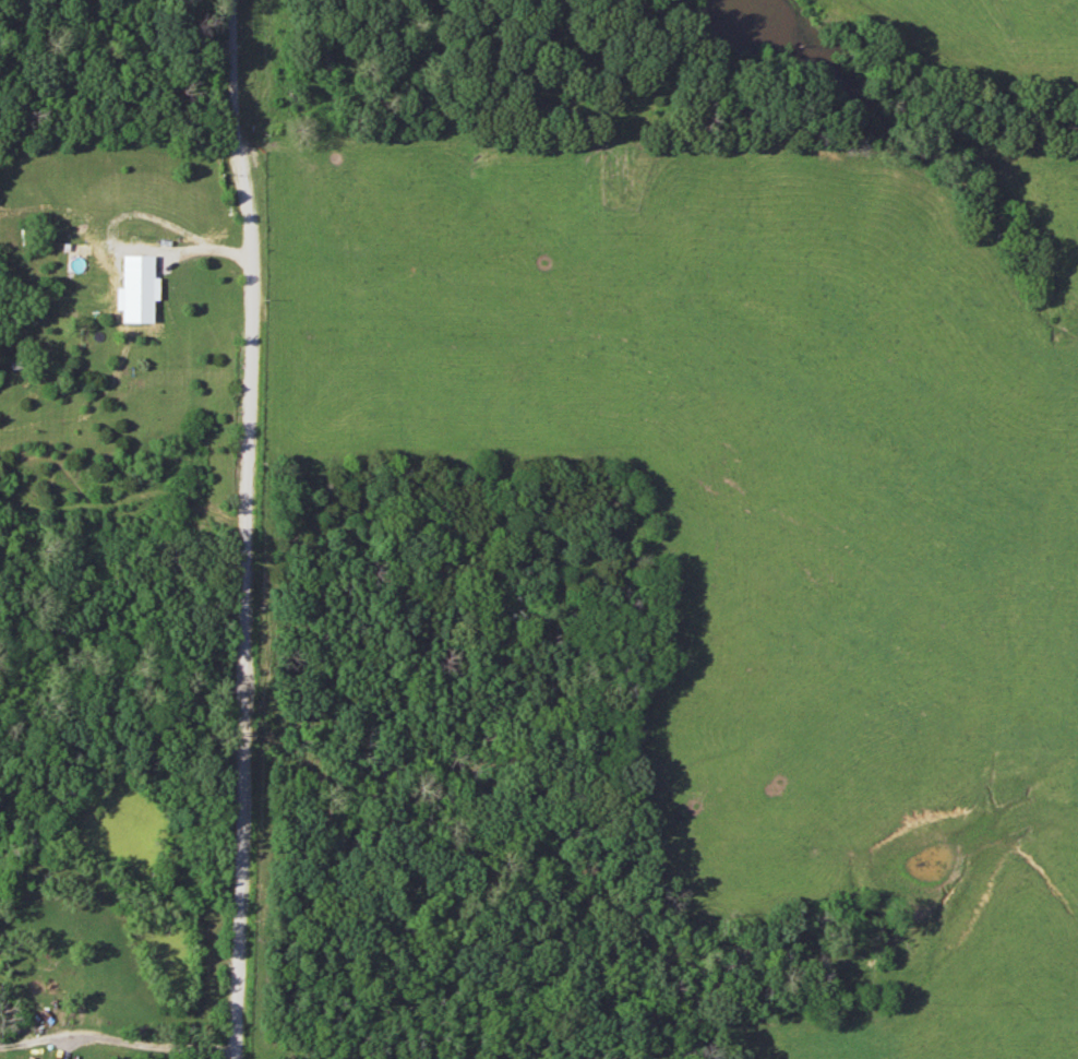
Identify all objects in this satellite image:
road: (236, 71)
building: (127, 298)
road: (247, 599)
road: (146, 1044)

